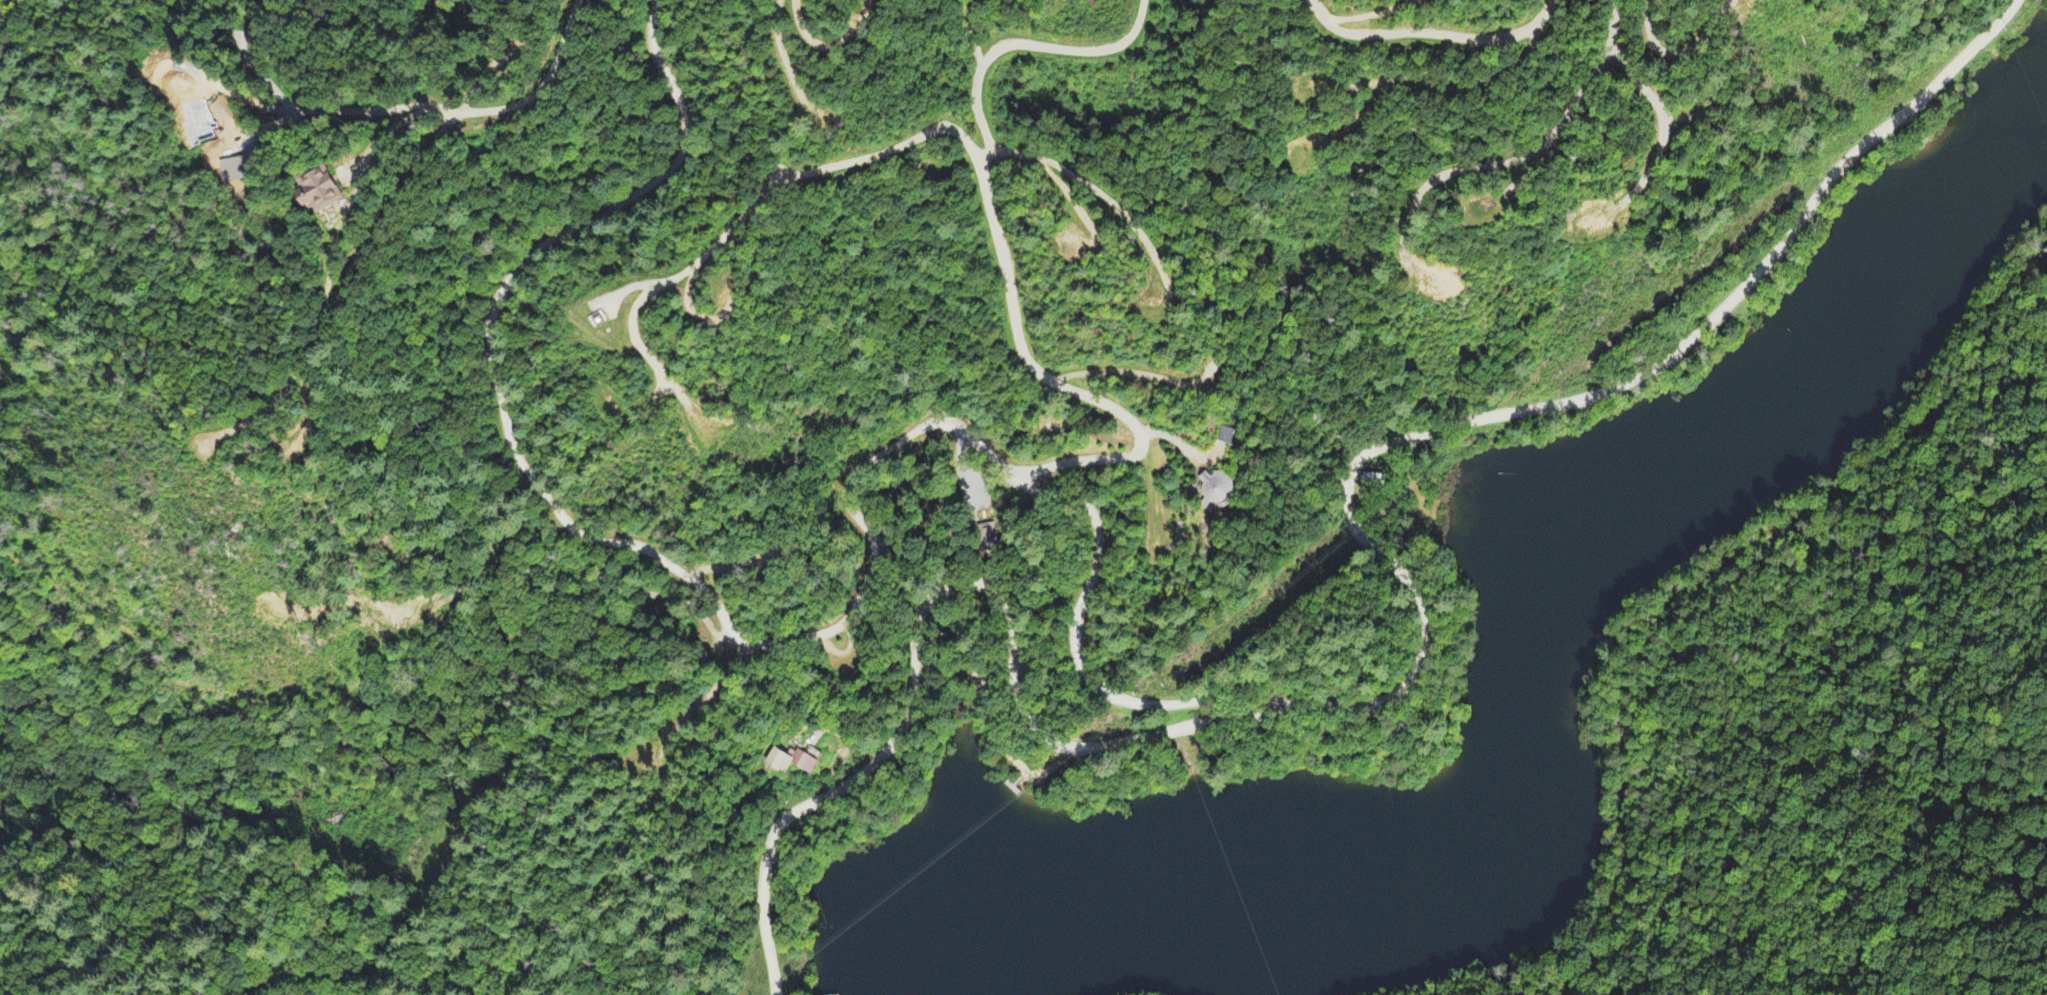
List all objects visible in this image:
road: (1432, 31)
road: (839, 44)
road: (458, 111)
road: (1547, 134)
building: (318, 193)
road: (755, 205)
road: (1001, 251)
building: (1219, 490)
road: (1668, 604)
road: (777, 645)
road: (1413, 680)
building: (792, 764)

